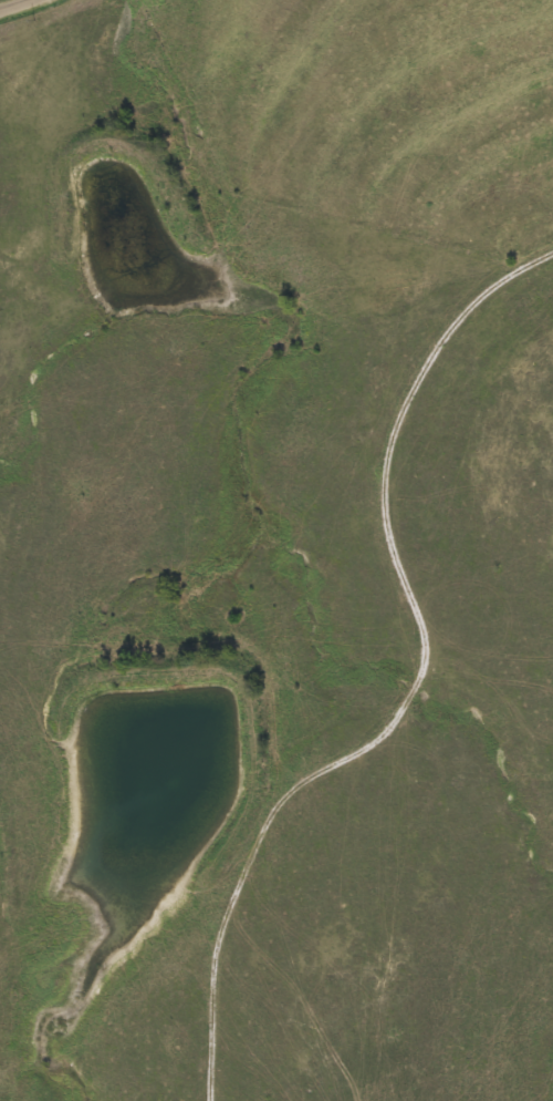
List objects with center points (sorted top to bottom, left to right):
road: (18, 6)
road: (421, 681)

